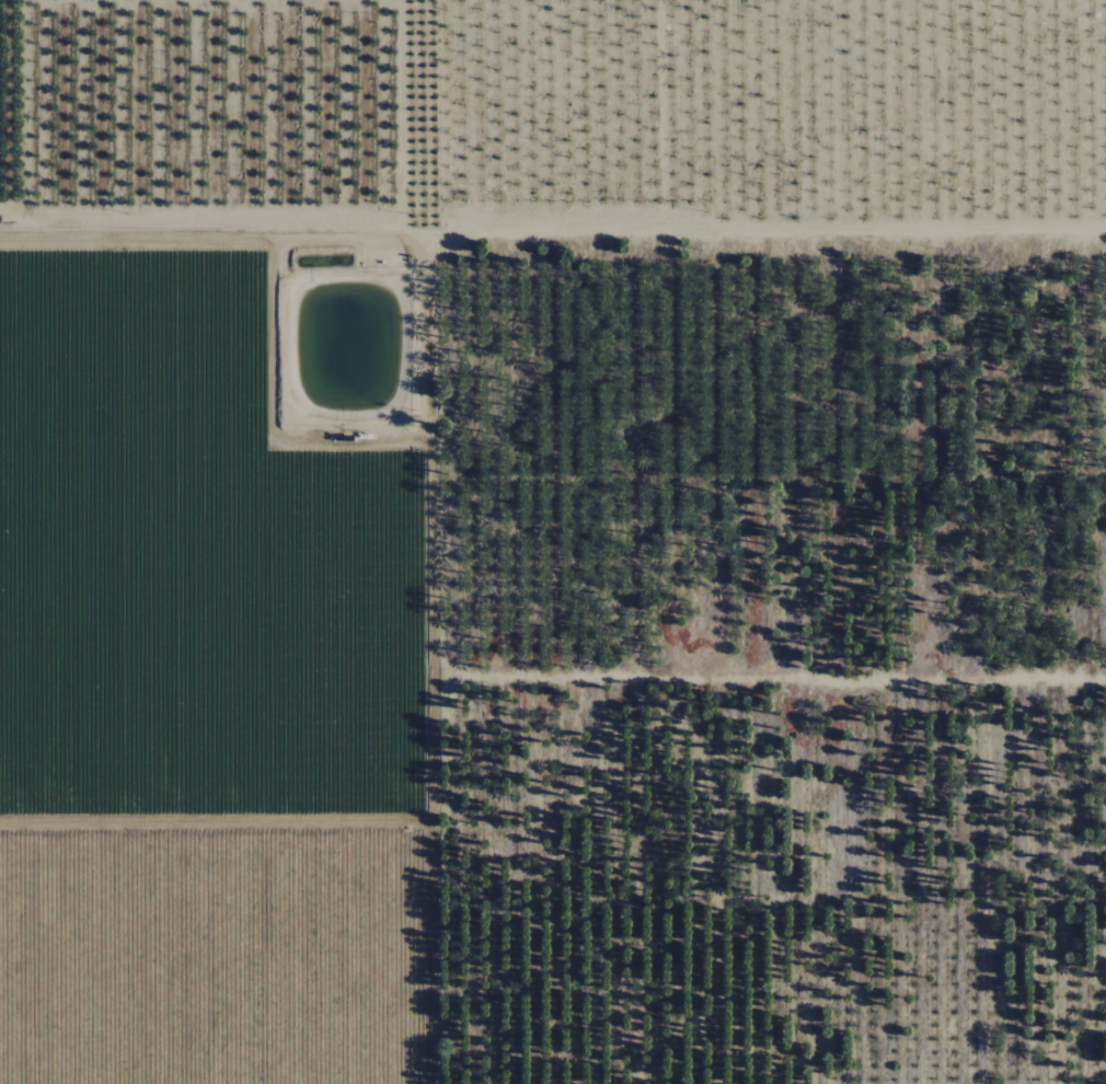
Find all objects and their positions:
road: (553, 235)

